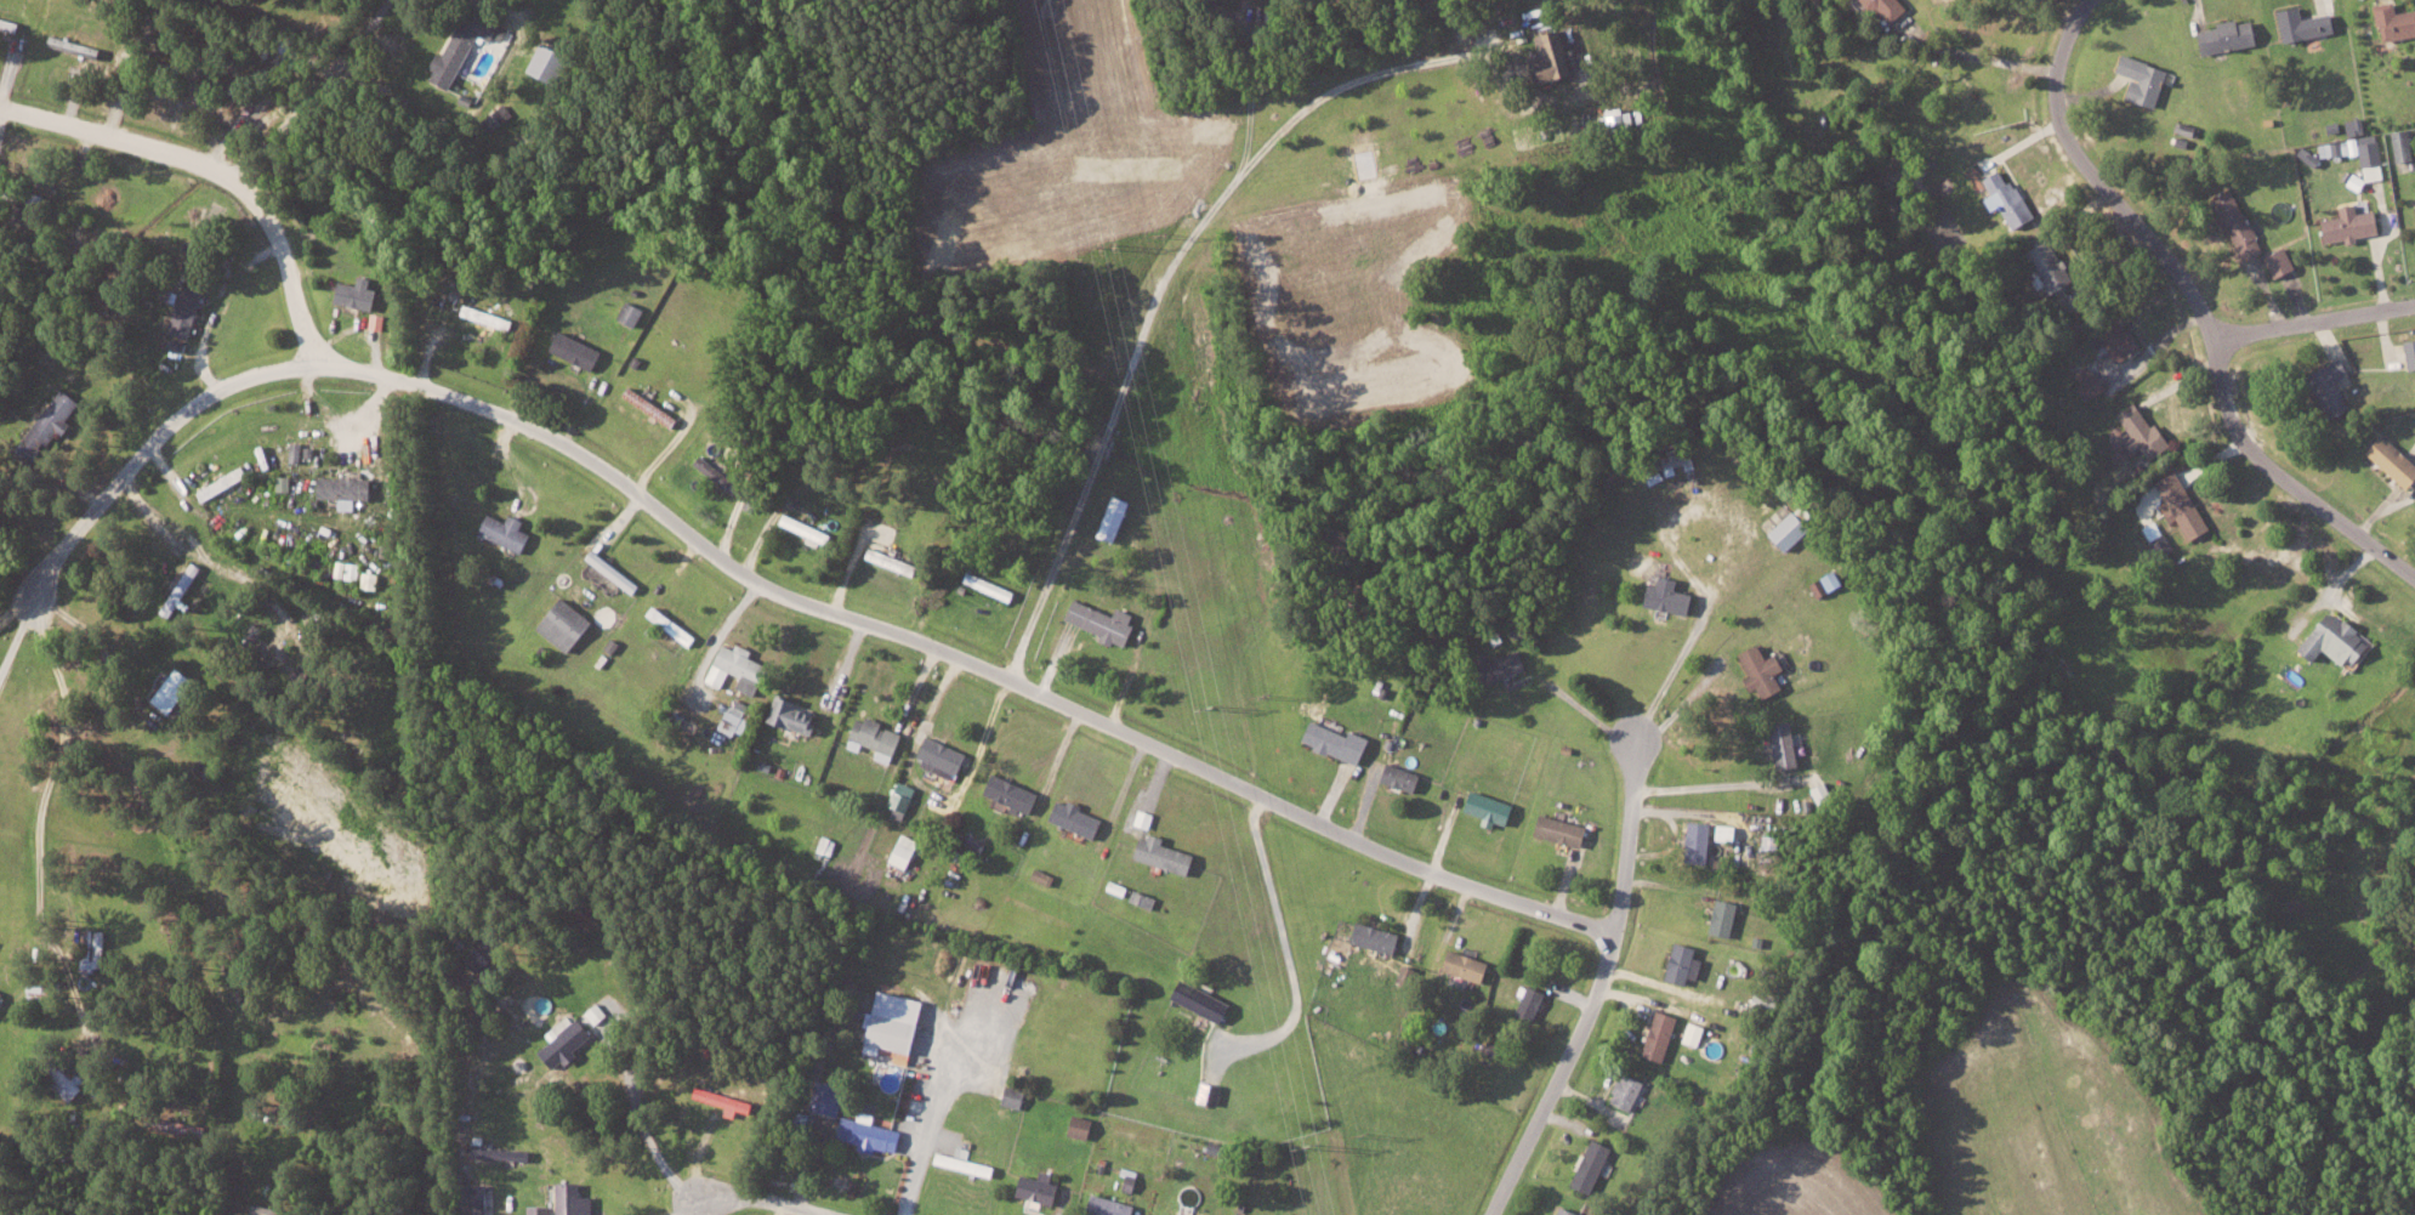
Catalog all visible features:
building: (2391, 21)
building: (2297, 23)
road: (1447, 28)
building: (2223, 34)
road: (1477, 41)
building: (461, 50)
building: (1555, 58)
building: (89, 59)
building: (551, 63)
building: (2136, 79)
building: (1618, 119)
building: (2352, 125)
building: (2398, 143)
building: (2369, 166)
road: (215, 169)
building: (1999, 194)
building: (2414, 206)
building: (2232, 223)
building: (2343, 223)
power tower: (1160, 234)
power tower: (1115, 244)
building: (2274, 260)
building: (2040, 262)
building: (359, 291)
road: (2195, 307)
building: (188, 310)
building: (631, 311)
building: (489, 316)
road: (1146, 316)
road: (2311, 324)
building: (2108, 337)
building: (578, 348)
building: (2408, 351)
building: (2082, 381)
building: (2323, 386)
building: (50, 422)
building: (2135, 430)
building: (296, 450)
building: (2387, 459)
building: (284, 482)
building: (347, 489)
building: (2176, 504)
building: (1115, 516)
building: (807, 527)
building: (1792, 528)
building: (506, 529)
building: (892, 560)
building: (347, 568)
building: (613, 570)
building: (370, 579)
building: (182, 587)
road: (765, 591)
building: (1671, 595)
building: (1104, 620)
building: (567, 623)
building: (672, 624)
road: (16, 638)
building: (2326, 638)
building: (1510, 663)
building: (739, 666)
building: (306, 669)
building: (1765, 669)
road: (1670, 672)
building: (174, 688)
power tower: (1262, 695)
power tower: (1214, 709)
building: (795, 712)
building: (737, 715)
building: (877, 737)
road: (118, 740)
building: (1339, 740)
building: (1788, 744)
building: (943, 756)
building: (1404, 777)
building: (1013, 793)
building: (1822, 793)
building: (903, 797)
building: (1493, 806)
building: (1078, 818)
building: (1140, 821)
building: (1564, 829)
building: (1727, 830)
building: (1699, 845)
building: (905, 850)
building: (1166, 853)
building: (1726, 916)
building: (1379, 936)
building: (95, 948)
building: (485, 956)
building: (1686, 963)
building: (1467, 964)
building: (1409, 973)
building: (39, 989)
road: (1593, 989)
building: (1, 995)
building: (1204, 1000)
building: (1530, 1001)
building: (1768, 1003)
building: (597, 1012)
building: (894, 1023)
building: (1694, 1032)
building: (1661, 1034)
building: (568, 1041)
building: (1629, 1090)
building: (1212, 1091)
building: (1016, 1096)
building: (726, 1100)
road: (936, 1100)
building: (1083, 1126)
power tower: (1358, 1131)
building: (871, 1134)
power tower: (1312, 1147)
building: (965, 1163)
building: (1593, 1165)
building: (1041, 1187)
road: (760, 1199)
building: (473, 1200)
building: (567, 1200)
building: (1112, 1205)
road: (675, 1207)
building: (263, 1209)
building: (1569, 1211)

